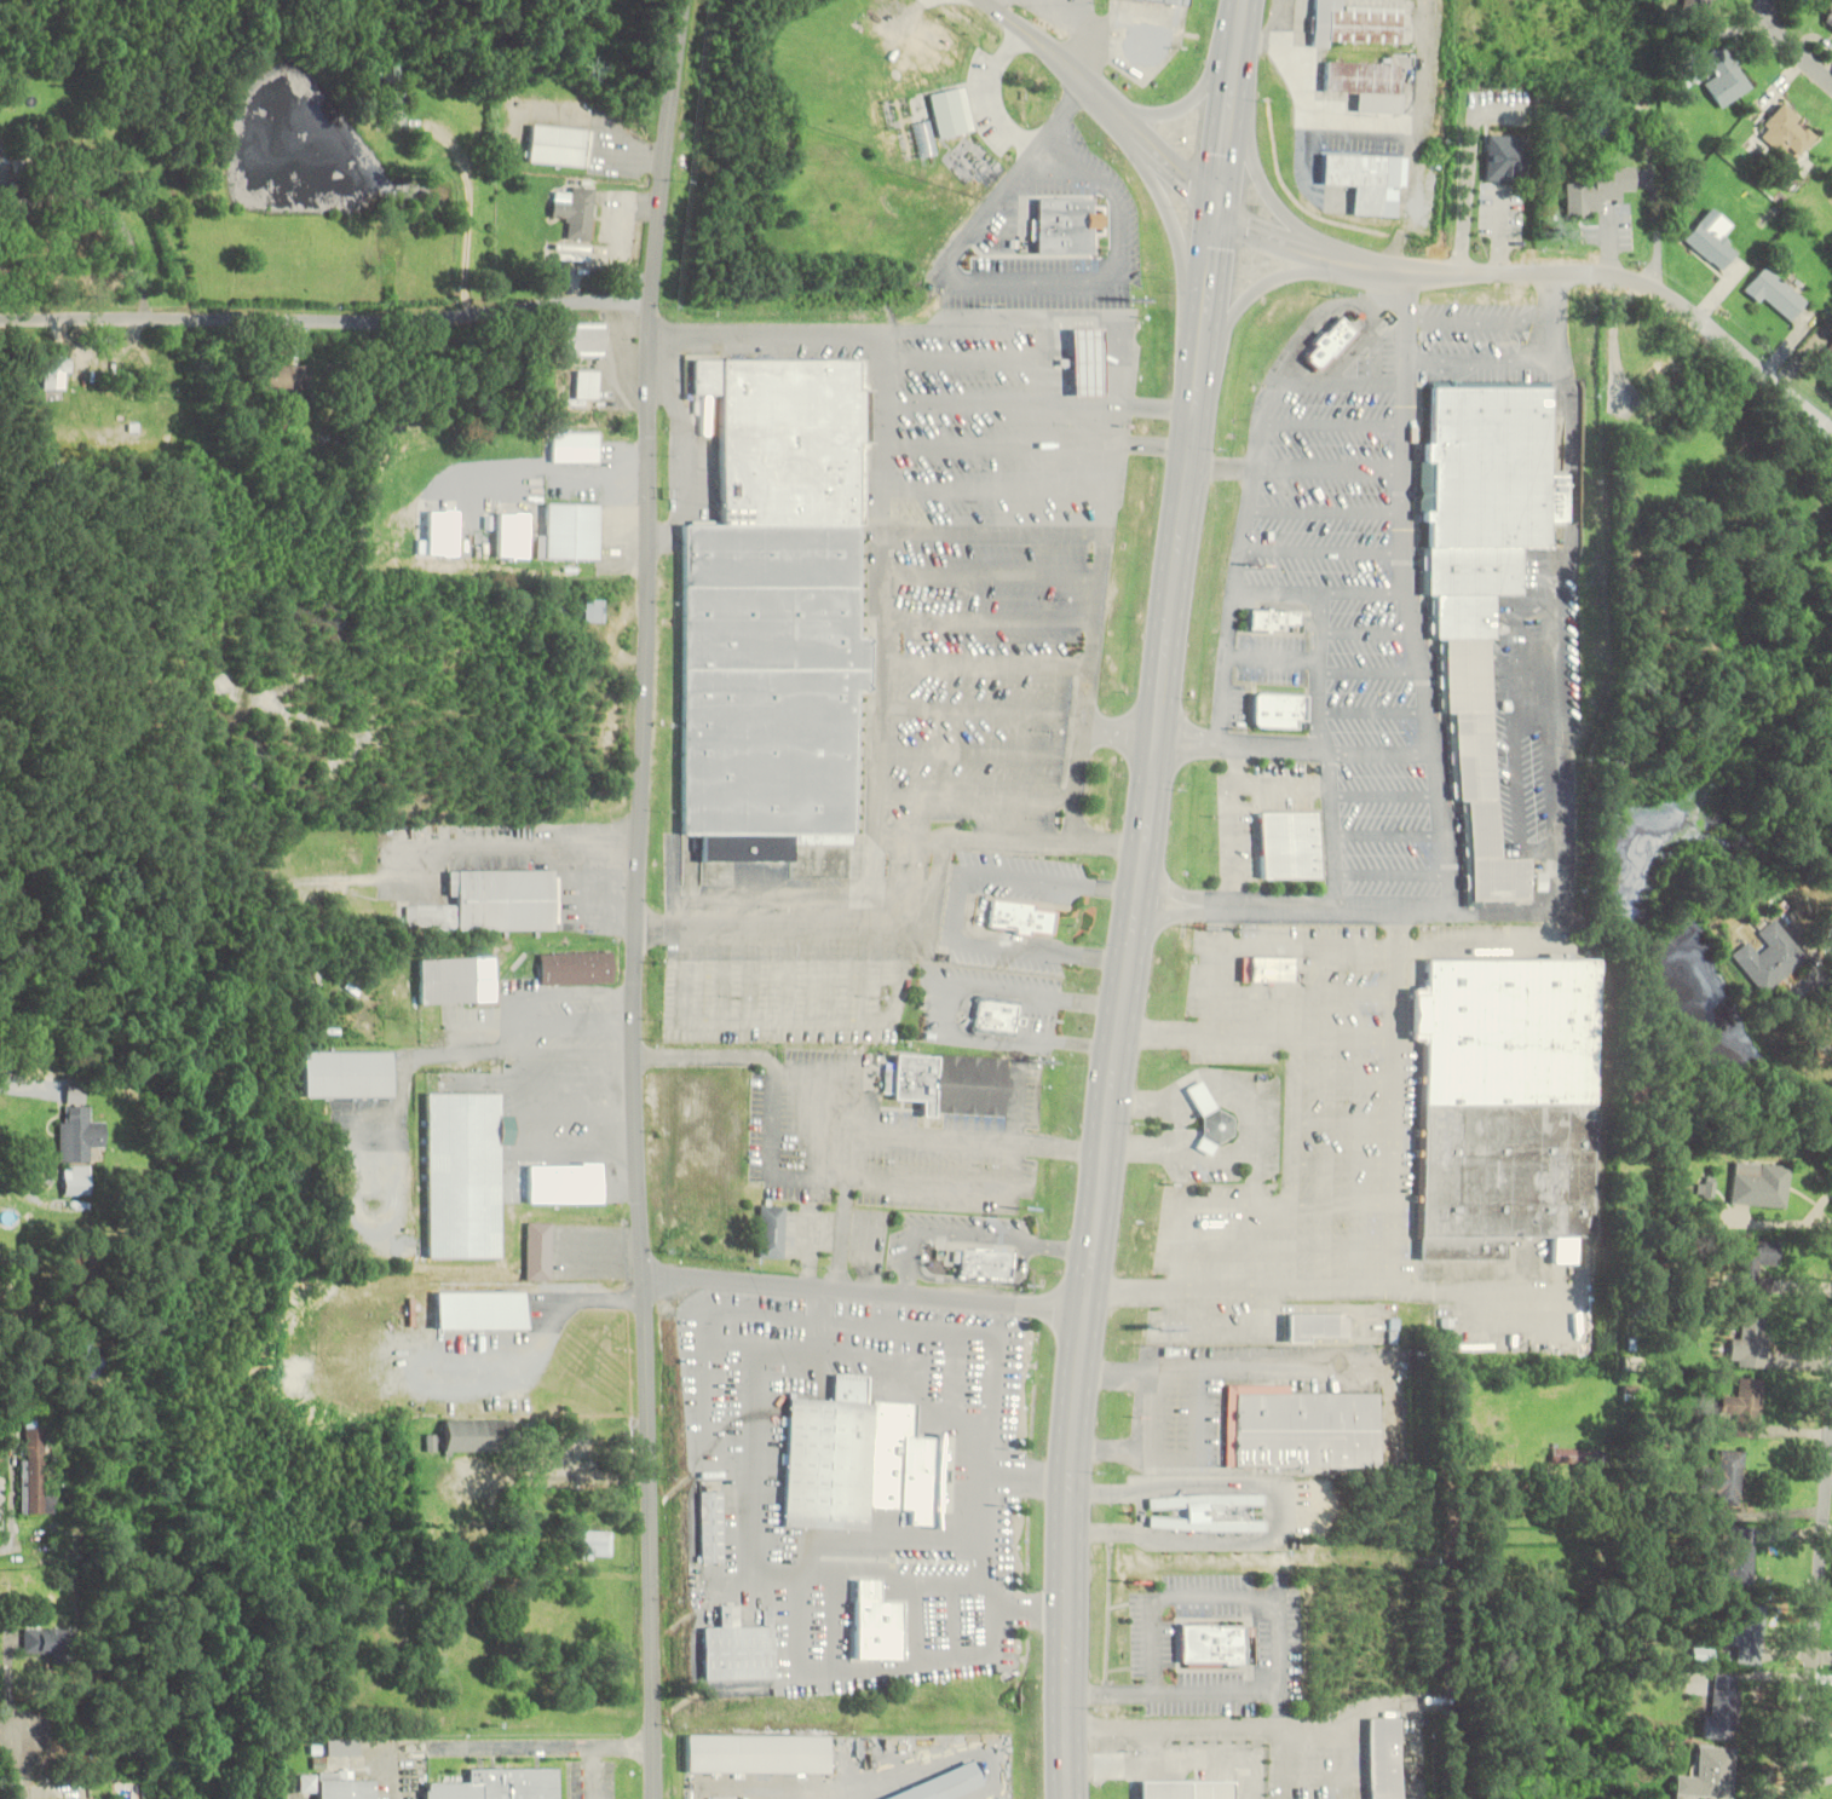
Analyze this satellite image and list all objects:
building: (1164, 1)
building: (1696, 5)
building: (1830, 16)
building: (1355, 23)
road: (1791, 47)
building: (1717, 74)
building: (1366, 83)
road: (993, 93)
road: (1181, 104)
building: (394, 109)
building: (951, 111)
building: (92, 125)
building: (1787, 131)
building: (560, 145)
building: (113, 154)
building: (1505, 157)
building: (1831, 175)
building: (1369, 180)
building: (1598, 189)
road: (1274, 197)
building: (576, 212)
traffic signals: (1219, 213)
road: (468, 215)
building: (1068, 224)
road: (1175, 232)
building: (1712, 238)
road: (1387, 269)
road: (996, 281)
road: (1274, 281)
building: (1776, 294)
road: (1556, 315)
road: (324, 317)
road: (1484, 321)
building: (586, 339)
building: (1330, 342)
building: (1828, 351)
road: (1482, 359)
building: (1084, 362)
building: (1667, 369)
road: (1458, 375)
building: (283, 376)
building: (589, 384)
building: (127, 393)
road: (1336, 423)
road: (1192, 426)
building: (789, 438)
building: (577, 446)
road: (1298, 469)
road: (1250, 495)
road: (1330, 511)
building: (571, 531)
road: (1327, 549)
building: (1491, 584)
road: (1415, 590)
road: (1369, 593)
building: (593, 610)
building: (1277, 619)
road: (1373, 632)
road: (1377, 670)
road: (1562, 681)
building: (768, 685)
road: (1324, 707)
building: (1283, 710)
road: (1378, 711)
road: (1260, 746)
road: (1387, 795)
road: (1389, 834)
building: (1287, 844)
road: (1389, 873)
road: (1170, 887)
road: (1134, 896)
road: (634, 898)
building: (494, 901)
road: (957, 904)
road: (1330, 905)
road: (1168, 917)
building: (1020, 918)
building: (1768, 957)
building: (576, 968)
building: (1266, 969)
building: (457, 979)
building: (999, 1016)
building: (346, 1073)
building: (956, 1083)
building: (1510, 1101)
building: (1205, 1119)
building: (79, 1135)
building: (463, 1174)
building: (76, 1180)
building: (564, 1182)
building: (1758, 1184)
building: (1705, 1187)
building: (772, 1230)
building: (538, 1250)
building: (1758, 1258)
building: (984, 1259)
road: (862, 1287)
building: (482, 1310)
building: (1318, 1326)
building: (1752, 1344)
road: (1078, 1368)
building: (1746, 1407)
building: (1303, 1428)
building: (478, 1435)
building: (1572, 1455)
building: (851, 1461)
building: (35, 1471)
building: (1726, 1477)
building: (1205, 1509)
building: (1229, 1509)
building: (708, 1526)
building: (597, 1544)
building: (1740, 1558)
road: (1815, 1624)
building: (1746, 1634)
building: (46, 1641)
building: (1210, 1645)
building: (734, 1648)
building: (1703, 1654)
building: (1724, 1708)
building: (342, 1747)
building: (754, 1749)
building: (1385, 1758)
building: (1710, 1774)
building: (305, 1783)
building: (934, 1783)
building: (501, 1784)
building: (345, 1786)
building: (1185, 1788)

